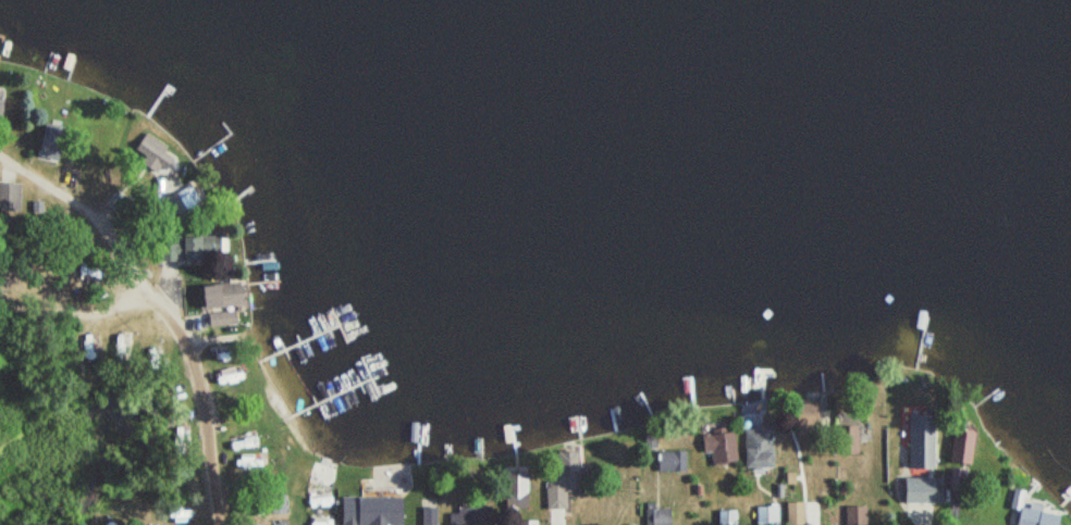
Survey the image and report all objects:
building: (186, 200)
road: (152, 221)
building: (190, 248)
building: (214, 297)
road: (169, 304)
building: (845, 442)
building: (918, 445)
building: (758, 449)
building: (959, 449)
building: (721, 450)
building: (556, 490)
building: (918, 491)
building: (126, 508)
building: (468, 515)
building: (854, 515)
building: (411, 516)
building: (657, 516)
building: (766, 516)
building: (181, 518)
building: (527, 524)

